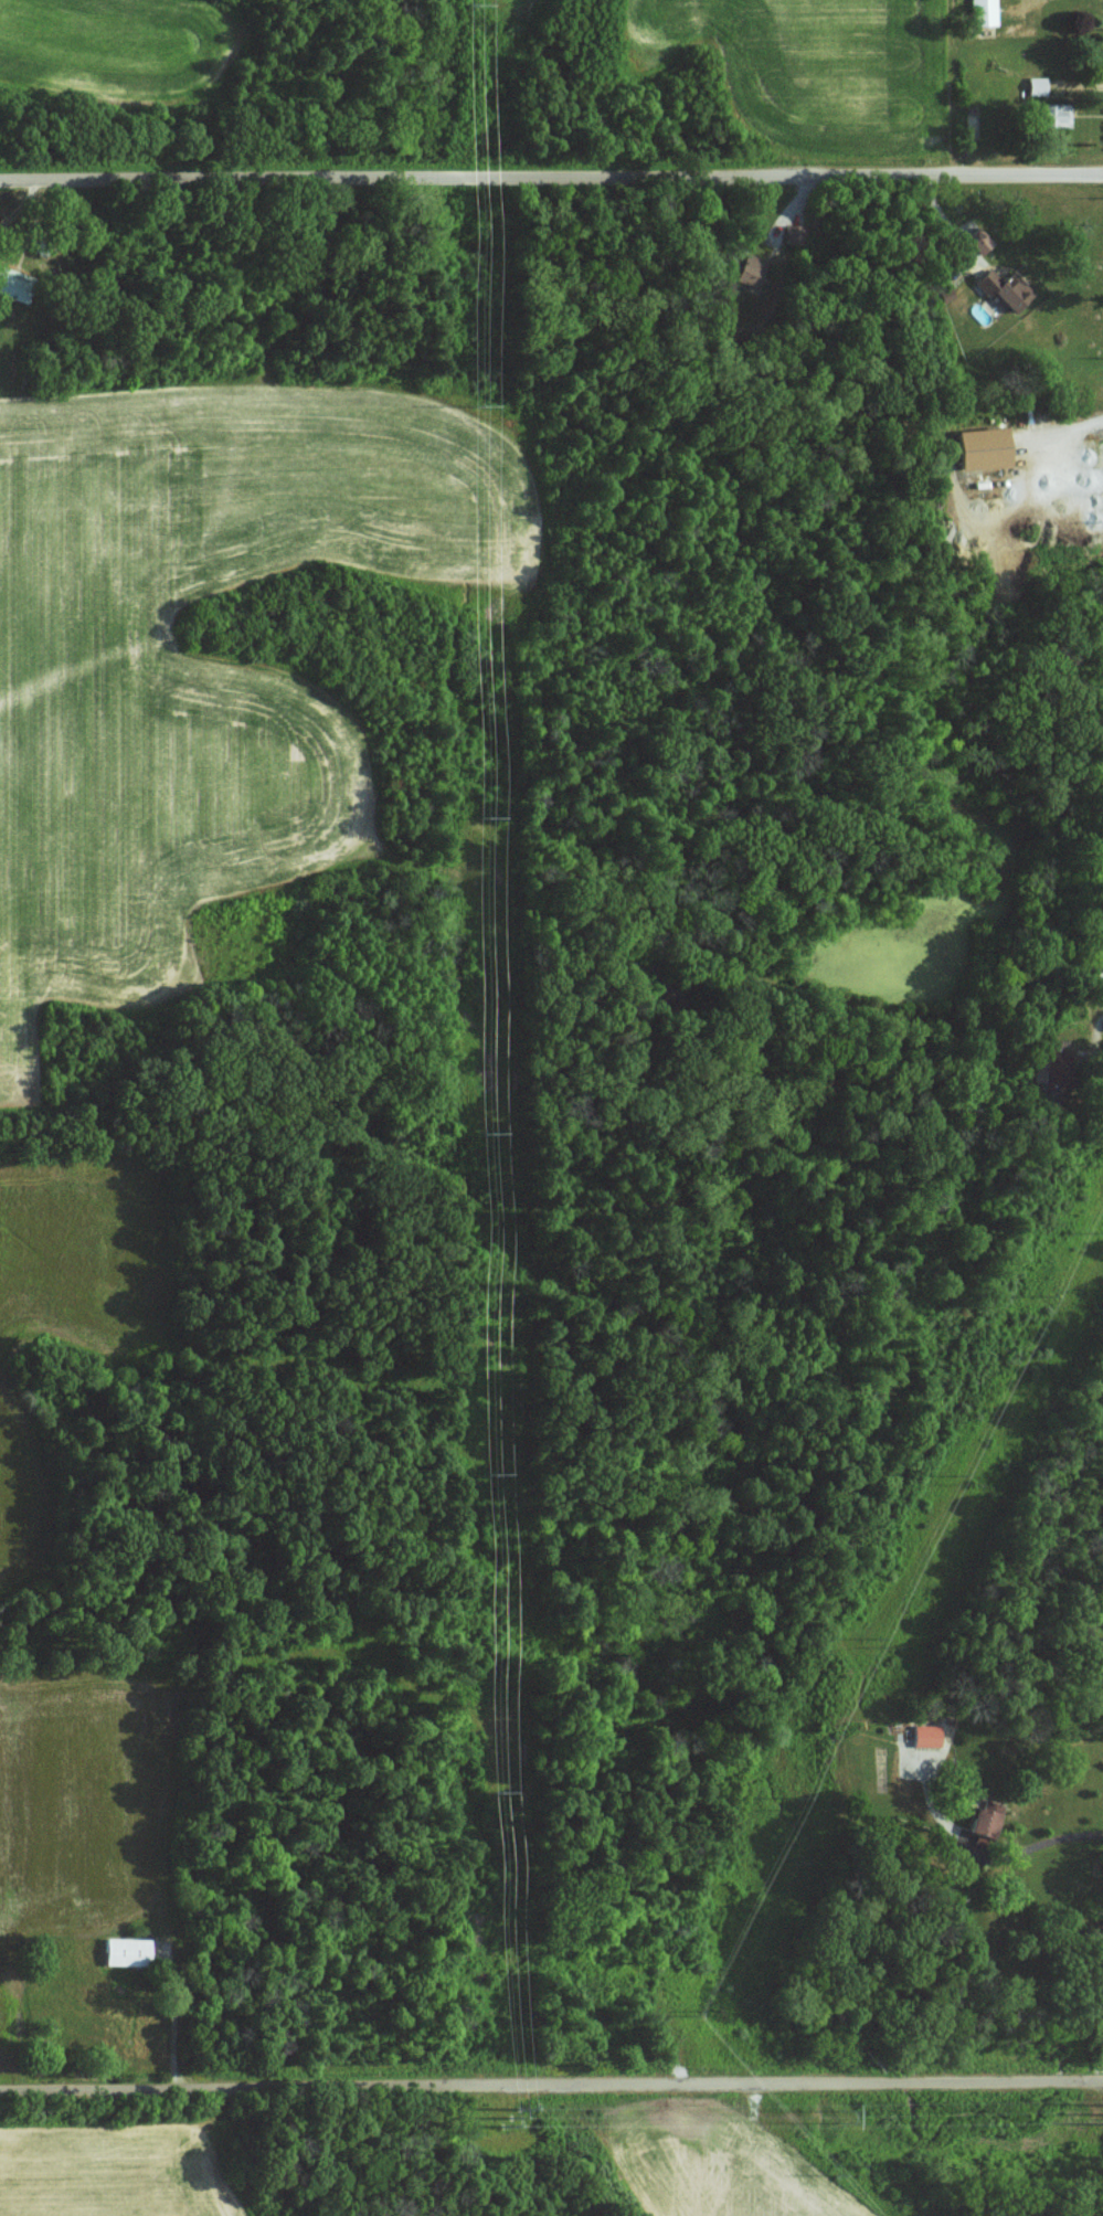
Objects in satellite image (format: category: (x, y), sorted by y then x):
building: (984, 11)
building: (1052, 113)
road: (551, 173)
building: (795, 233)
building: (979, 238)
building: (750, 269)
building: (14, 287)
building: (1006, 287)
building: (983, 446)
building: (927, 1735)
building: (985, 1823)
road: (1038, 1847)
building: (127, 1950)
road: (551, 2084)

